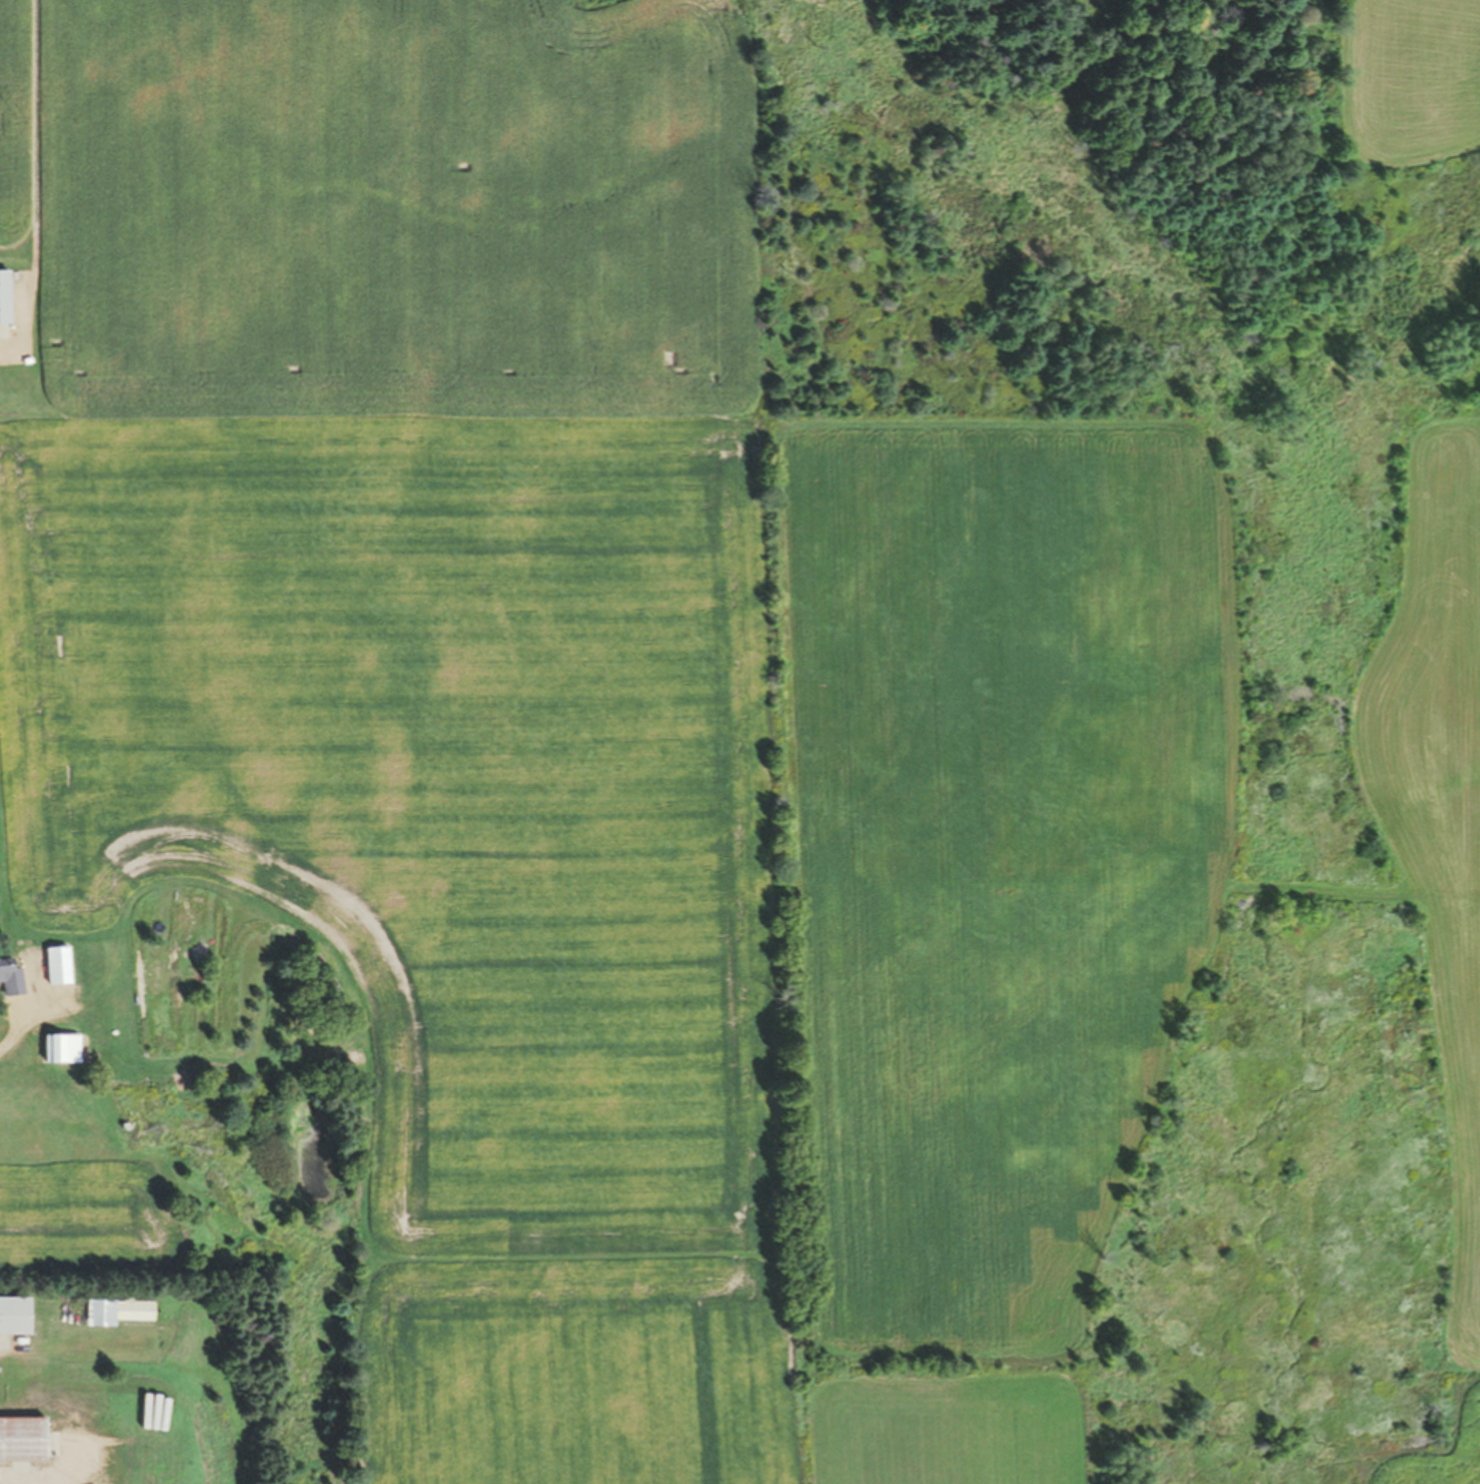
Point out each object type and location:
road: (29, 173)
building: (3, 295)
road: (14, 348)
building: (54, 965)
building: (8, 978)
building: (58, 1047)
building: (114, 1311)
building: (12, 1315)
building: (20, 1439)

